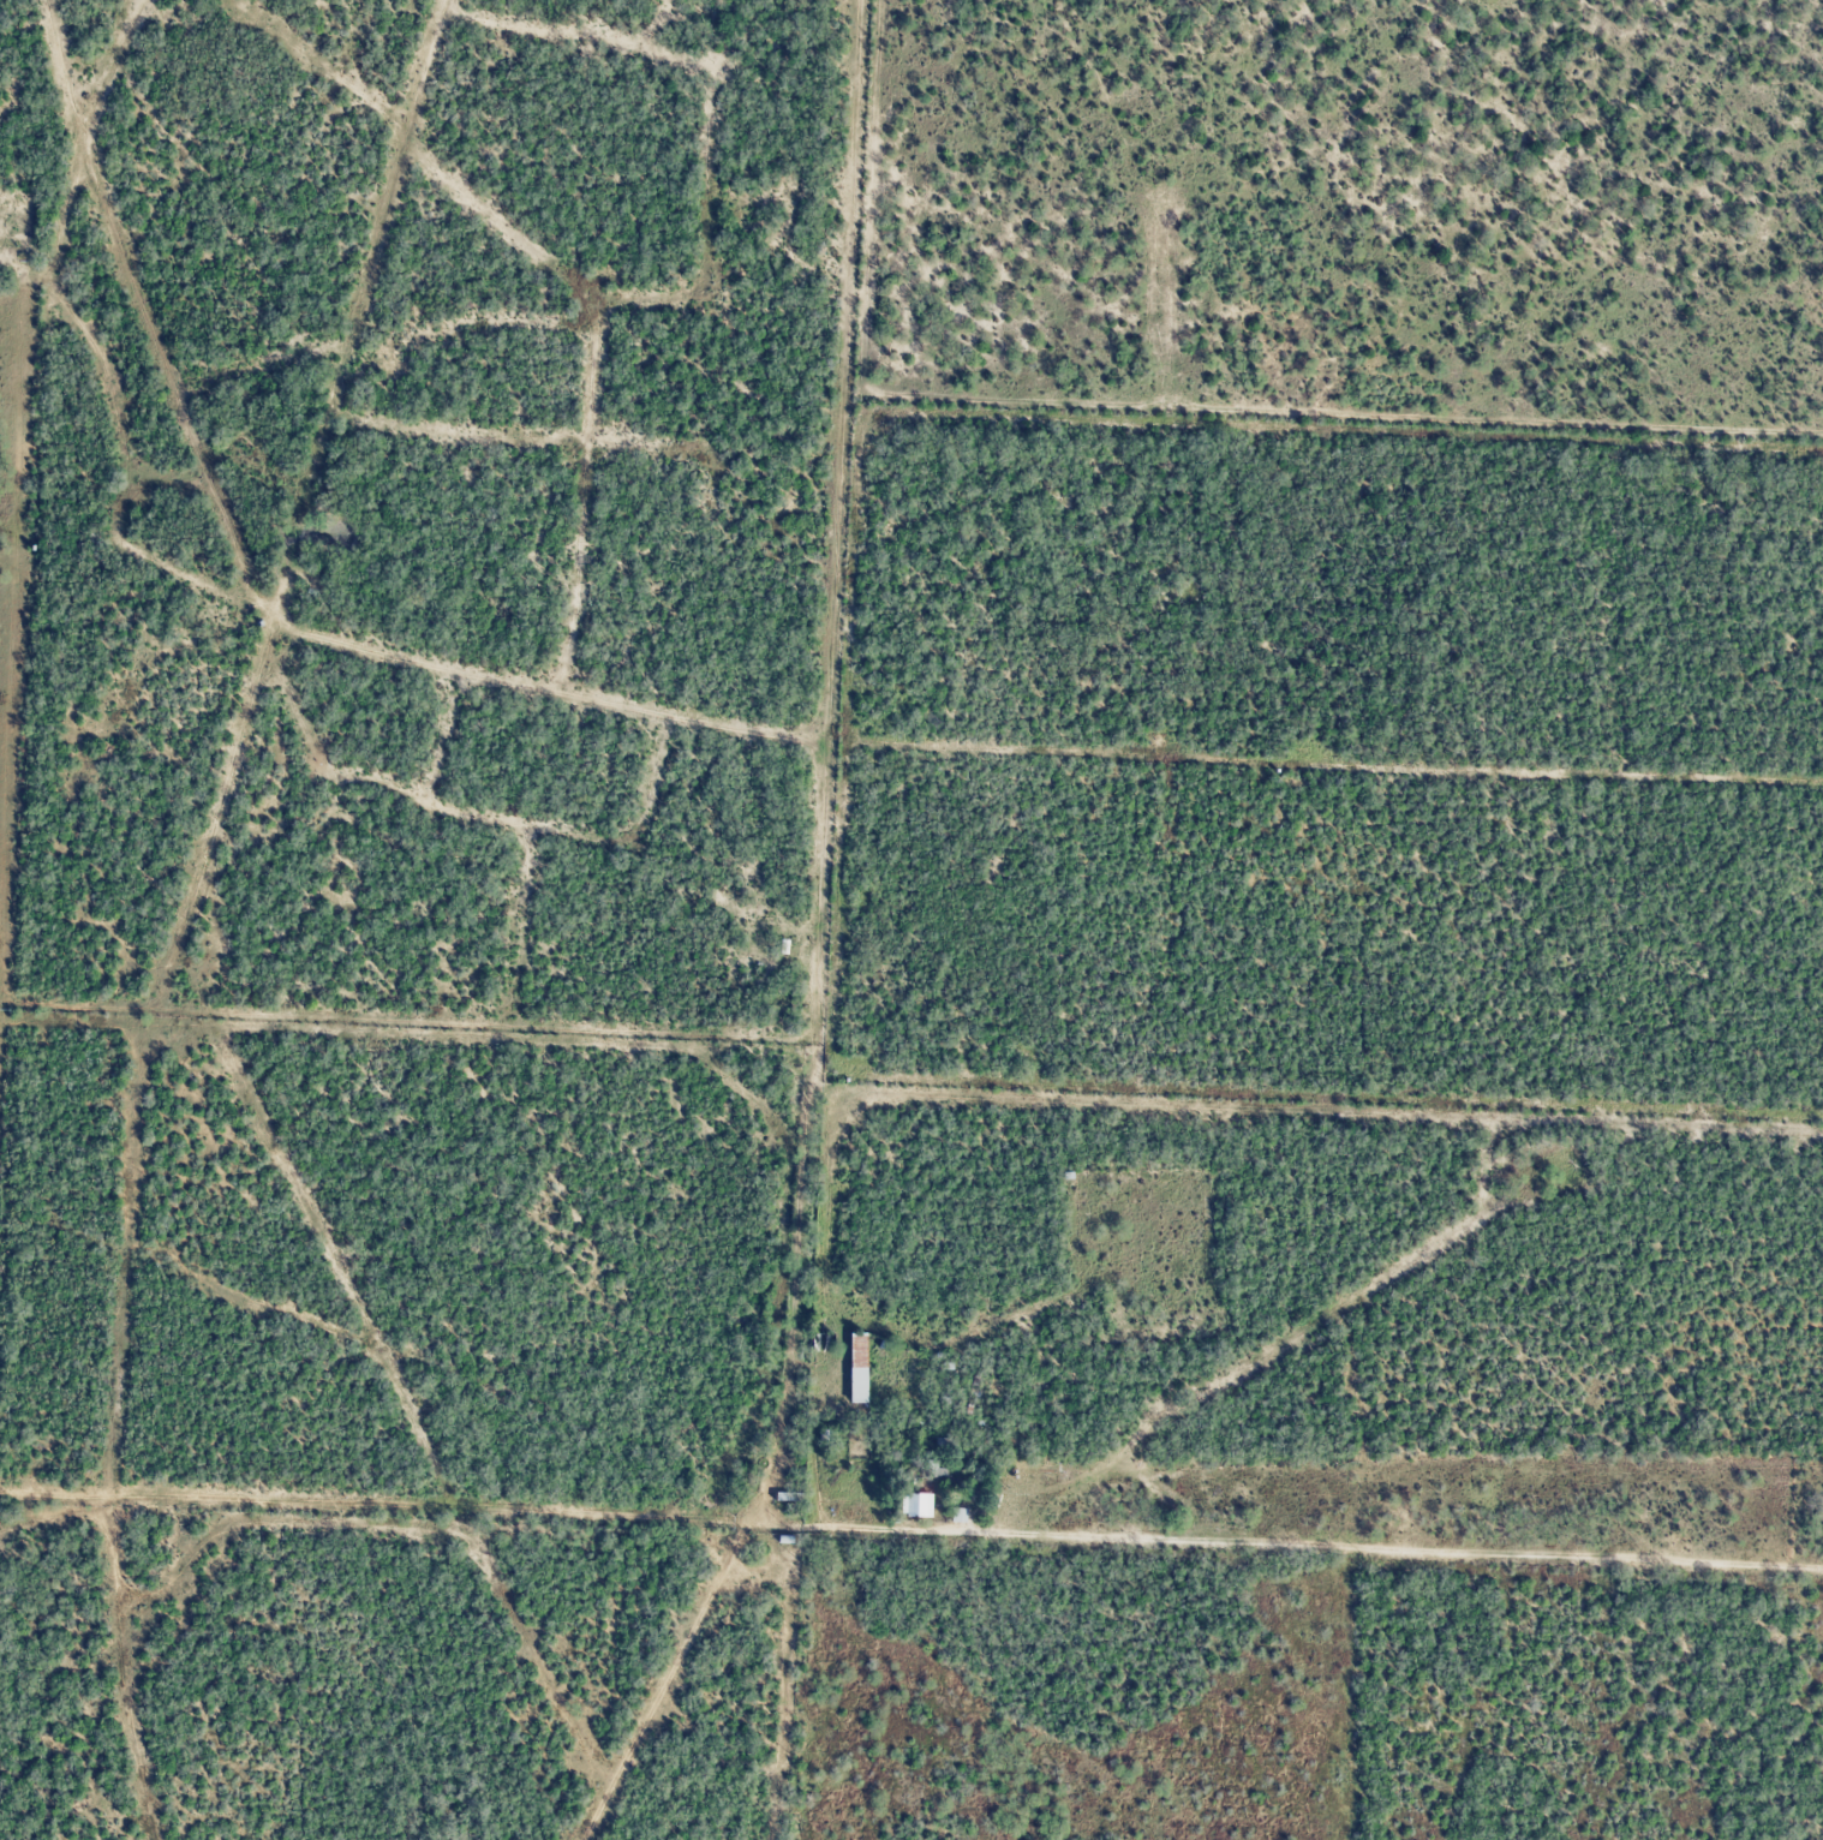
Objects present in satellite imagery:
building: (860, 1366)
building: (920, 1503)
building: (960, 1513)

